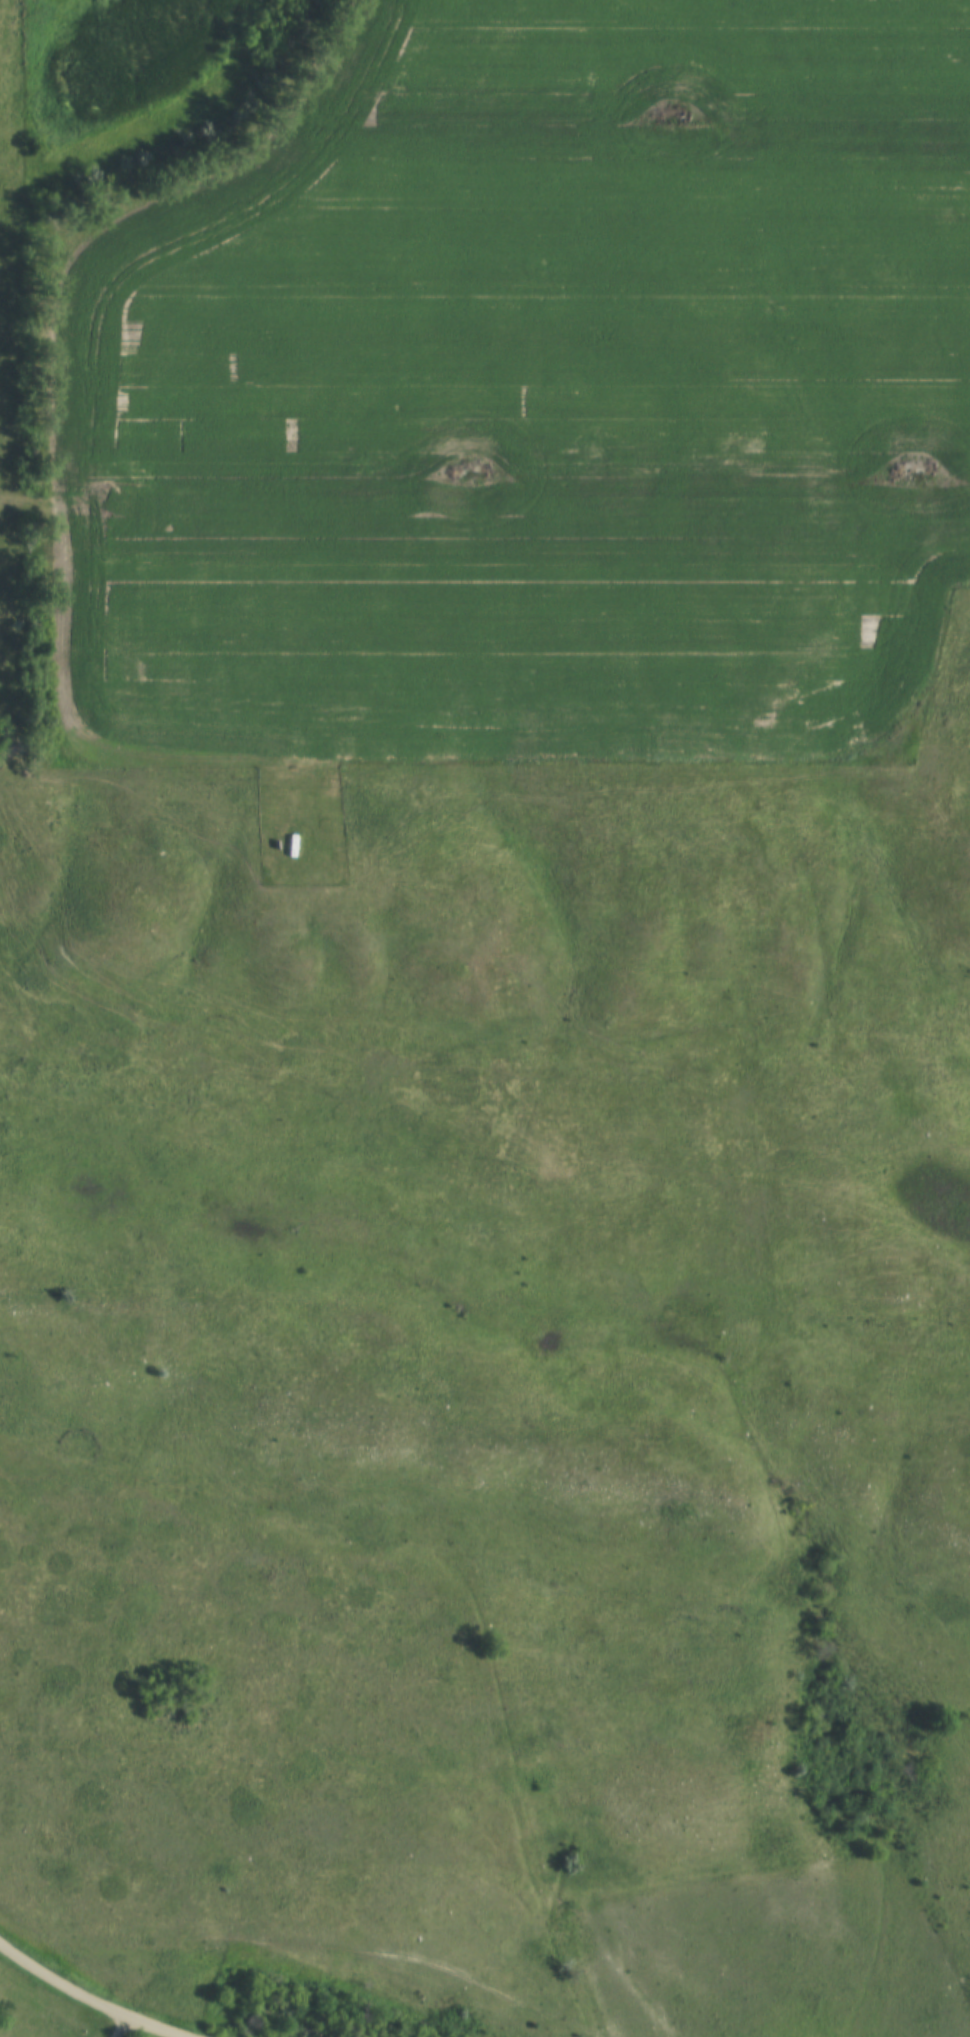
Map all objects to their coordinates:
road: (86, 2000)
road: (123, 2025)

